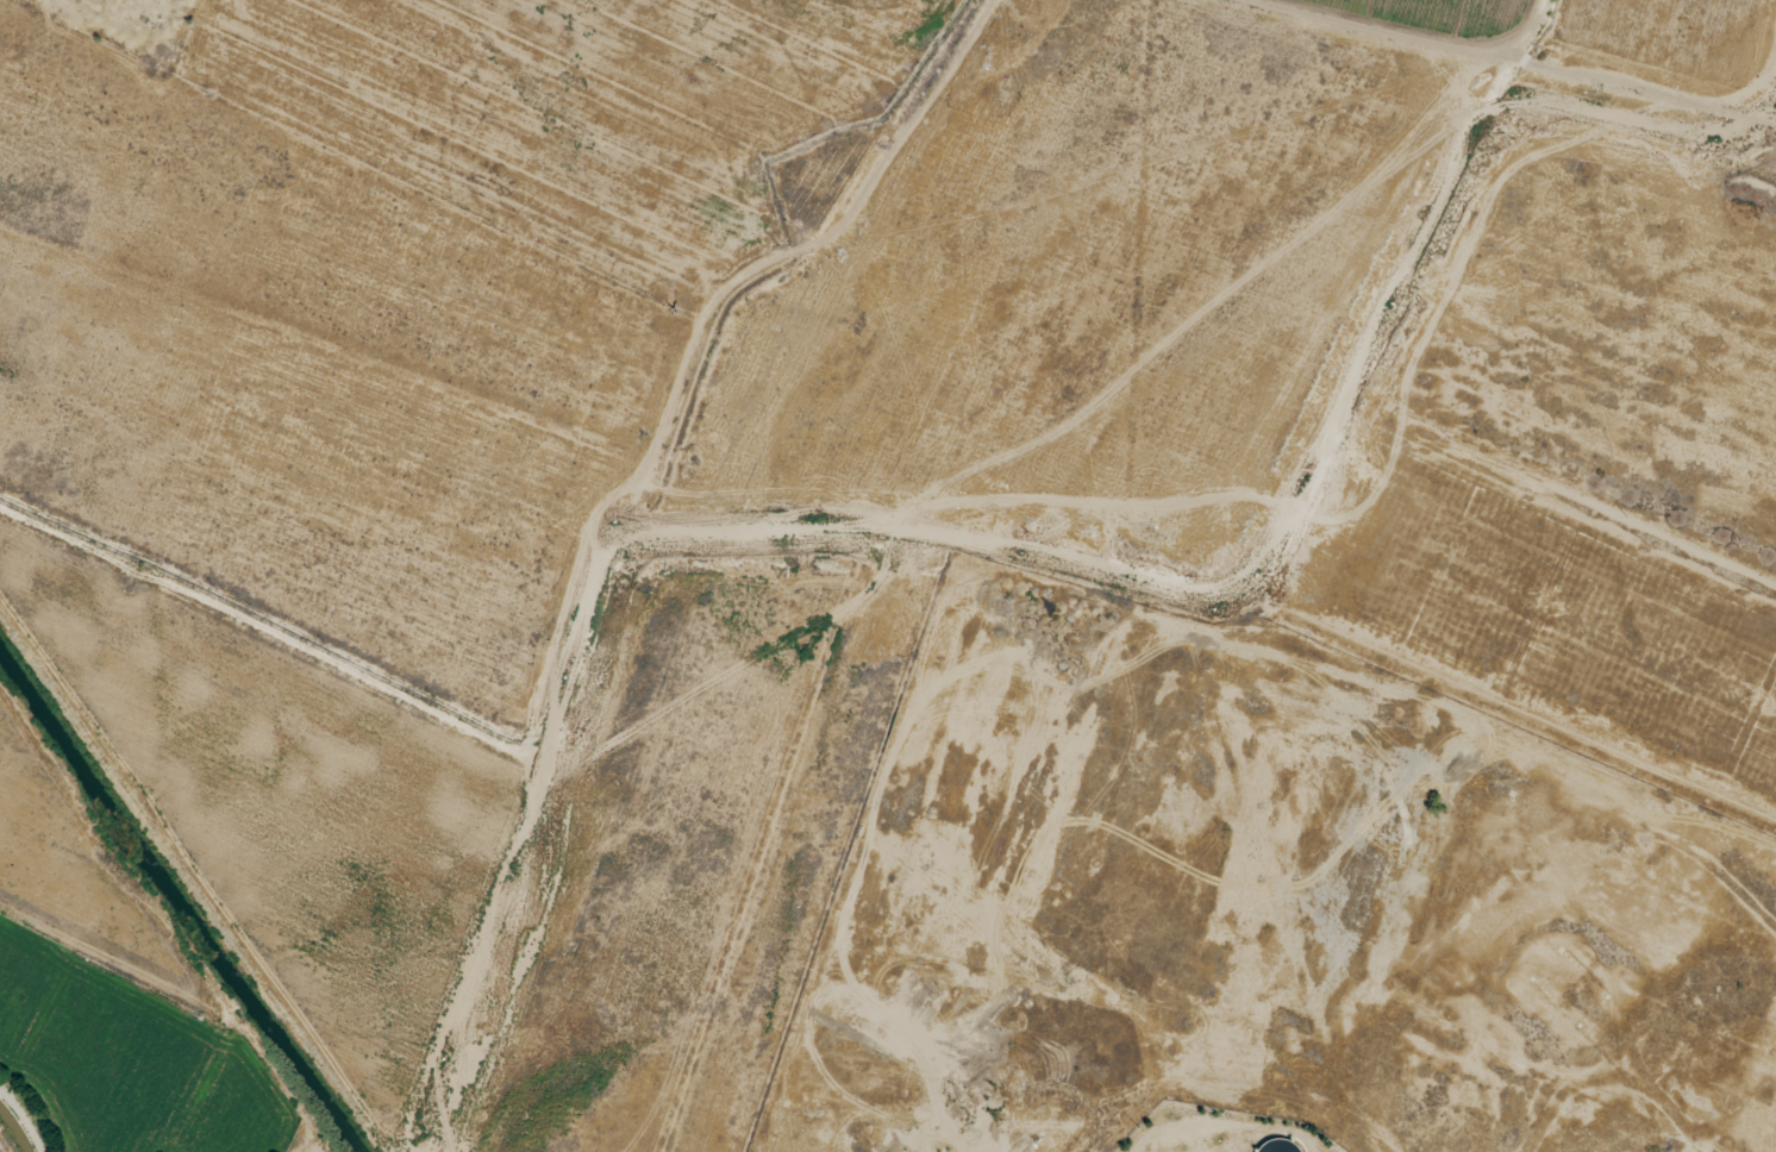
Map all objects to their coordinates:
road: (1507, 65)
wastewater plant: (1219, 1133)

